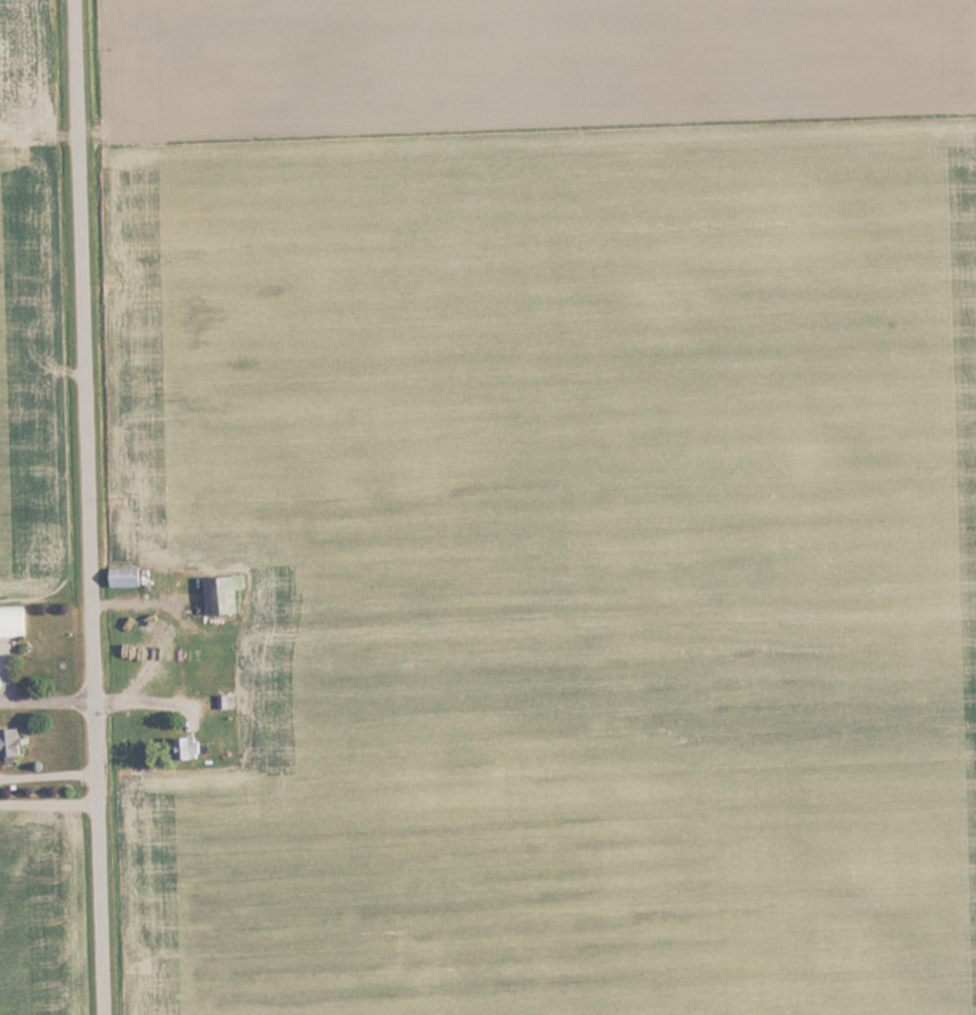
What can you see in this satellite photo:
road: (99, 507)
building: (126, 575)
building: (226, 593)
building: (14, 620)
building: (225, 701)
building: (11, 742)
building: (191, 747)

